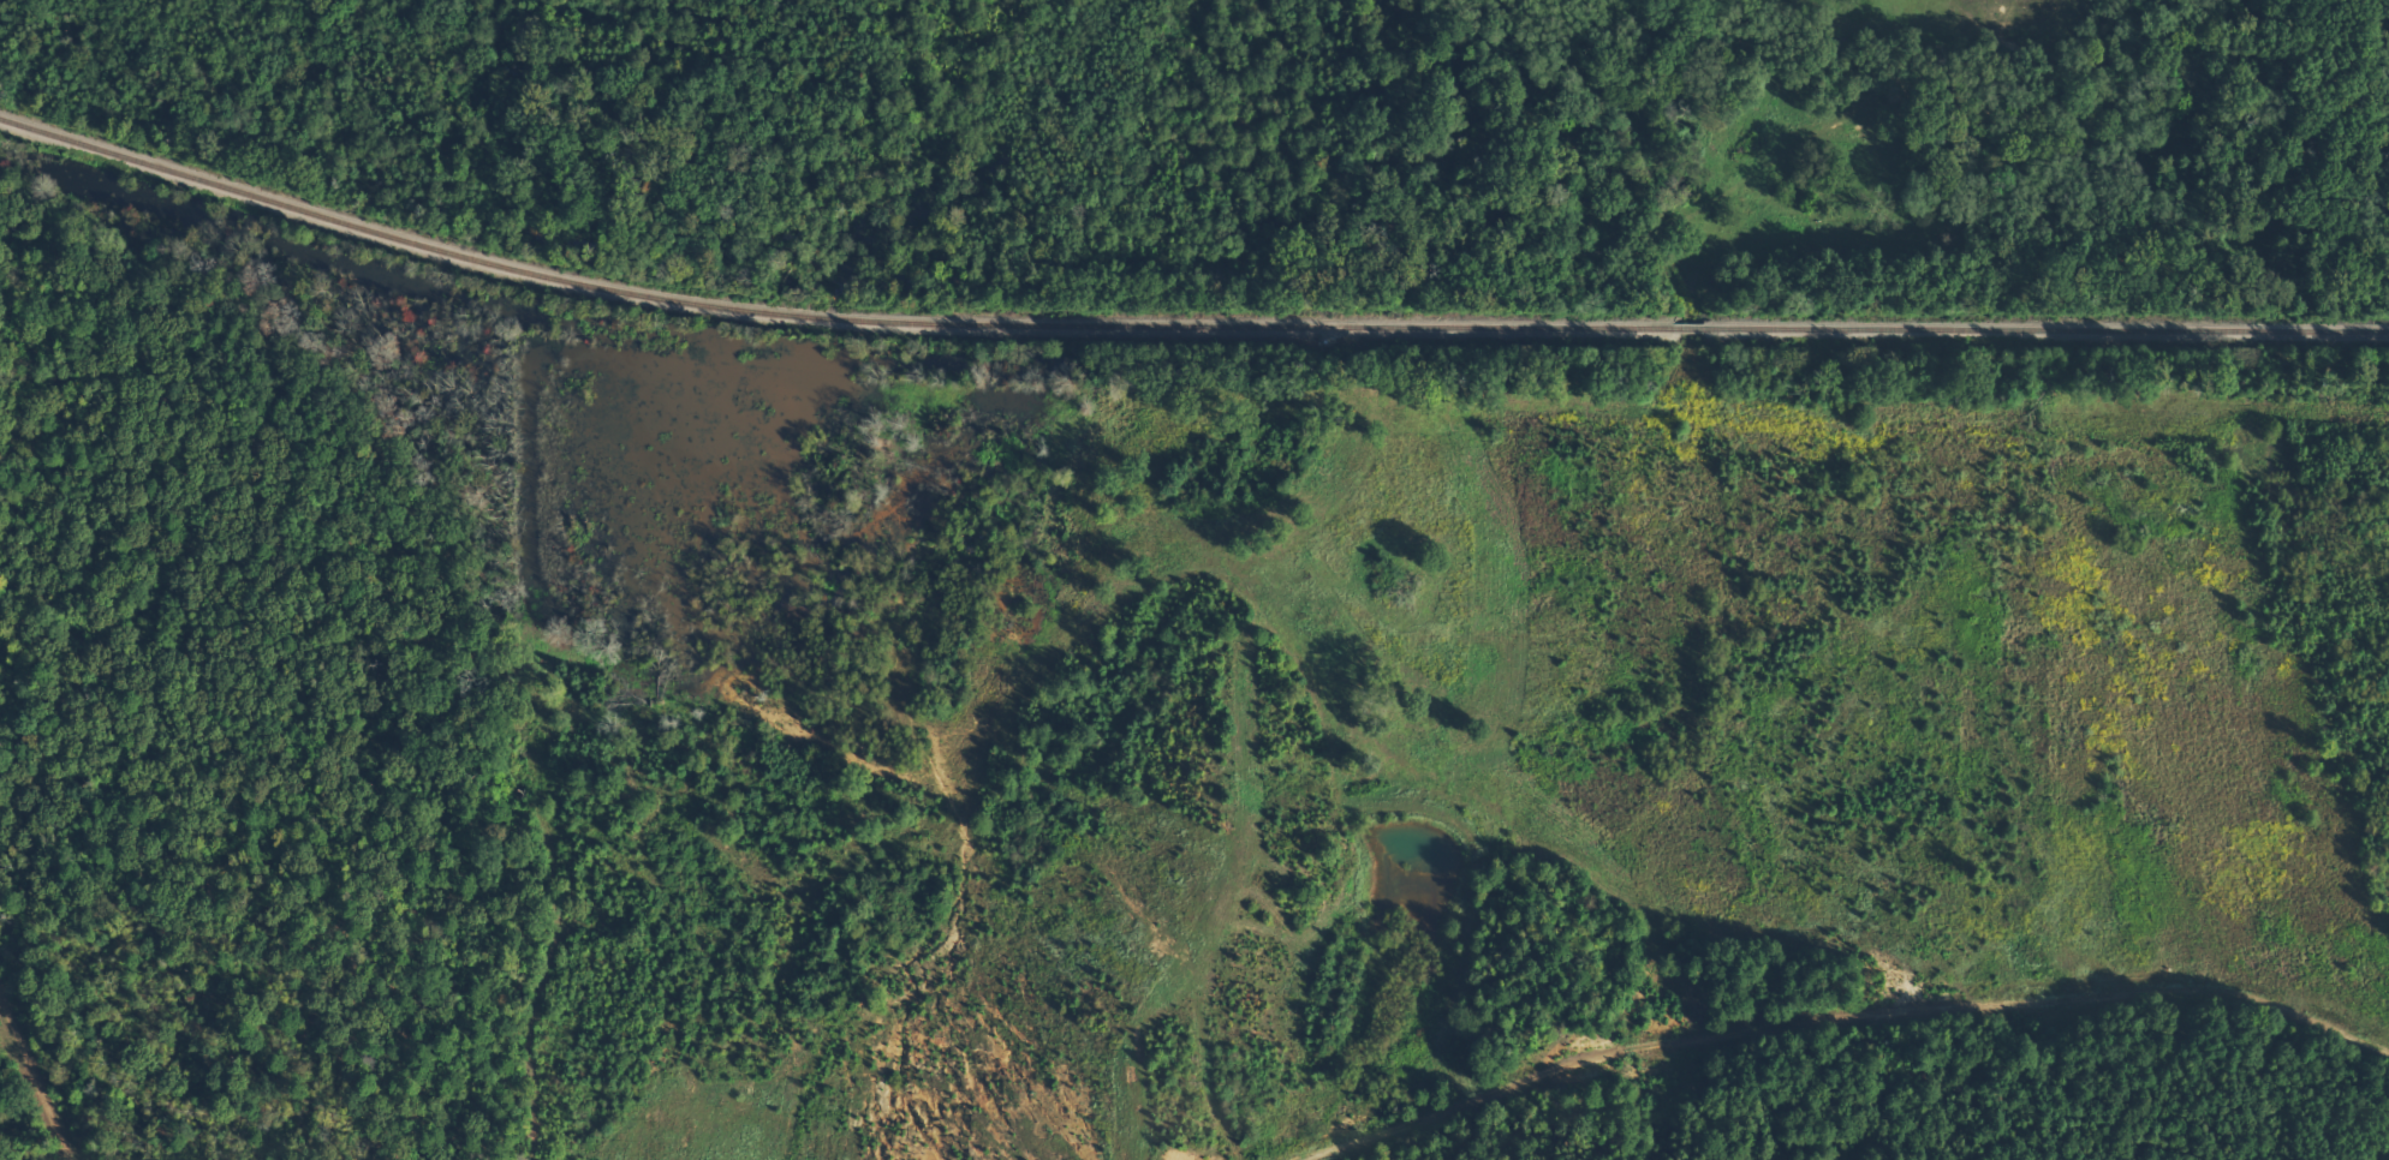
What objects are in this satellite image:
railway: (824, 318)
railway: (1690, 329)
railway: (2045, 329)

